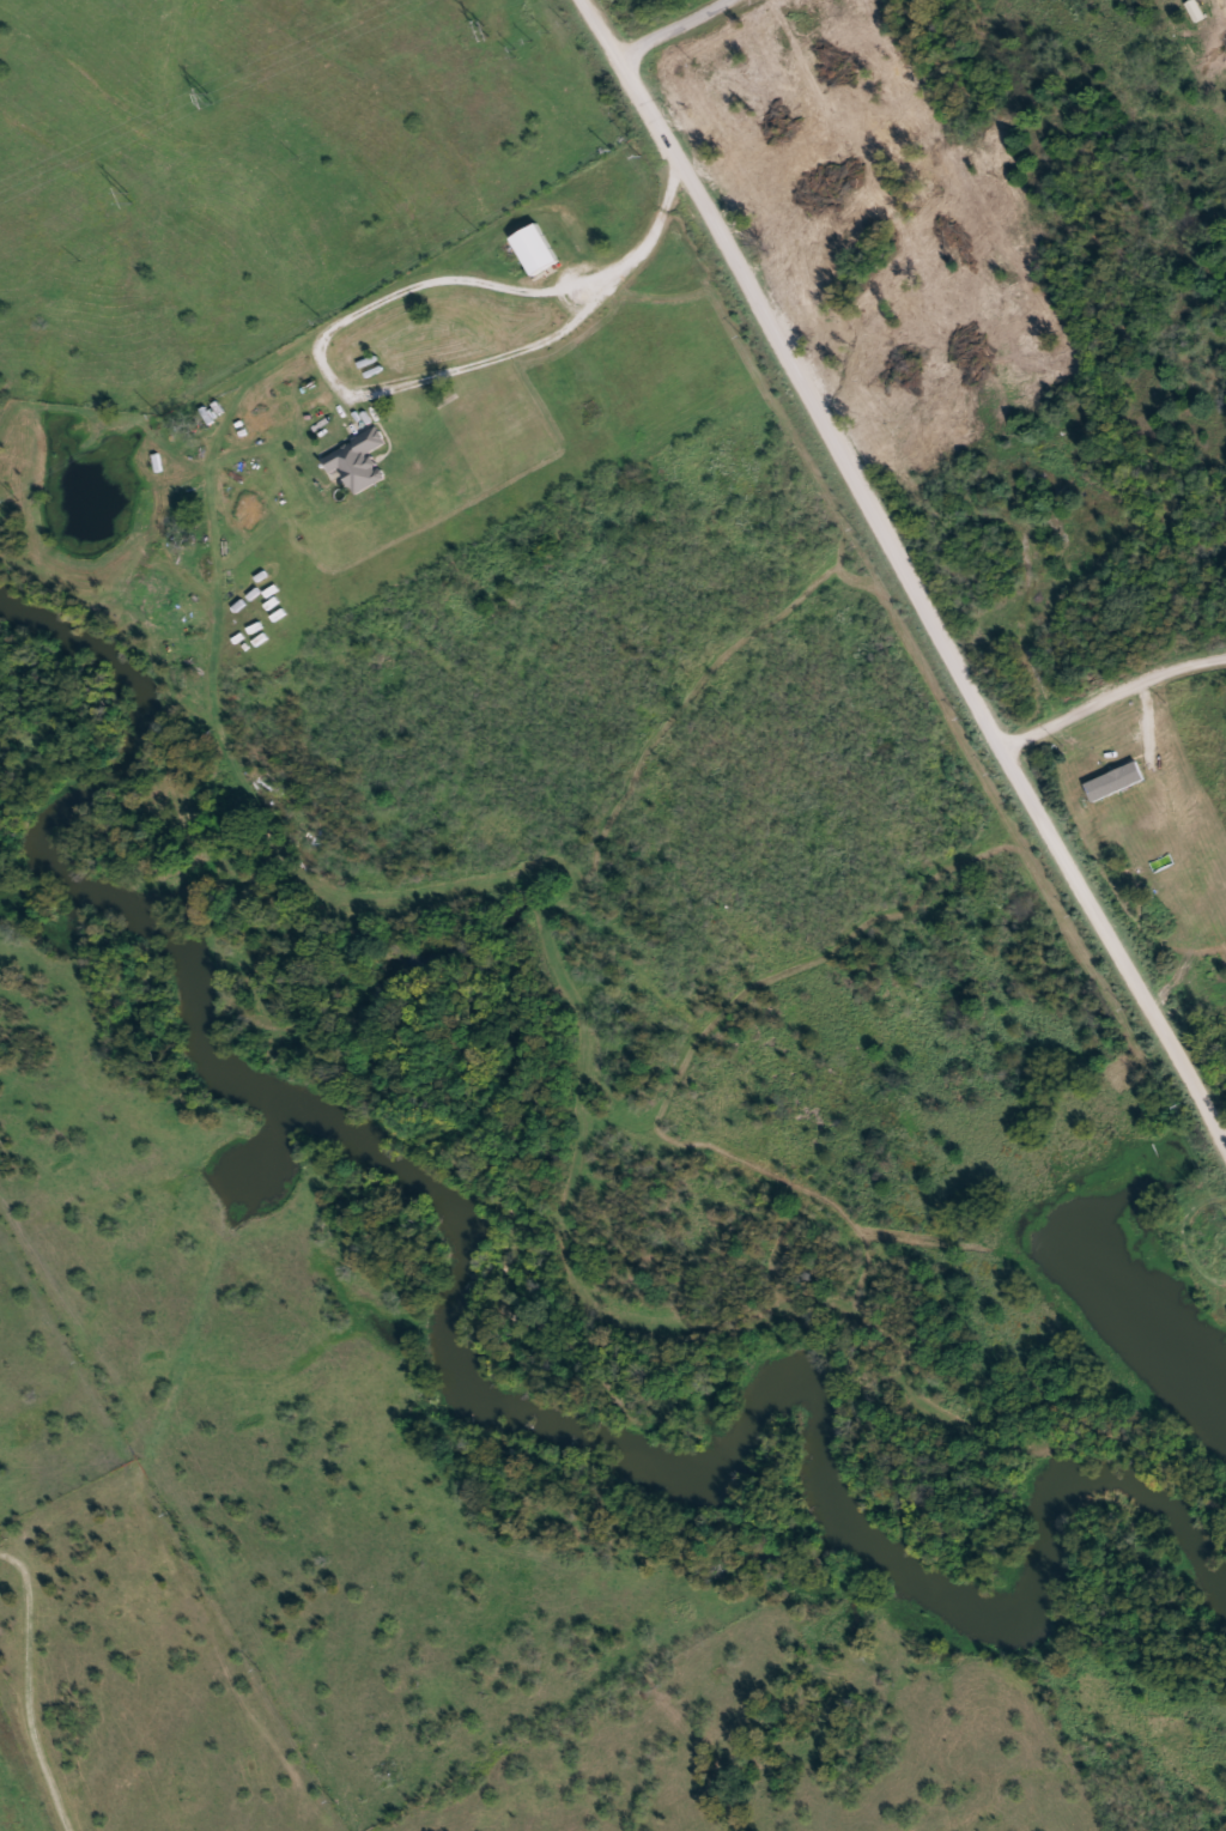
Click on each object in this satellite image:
road: (668, 20)
building: (536, 250)
road: (480, 284)
building: (358, 462)
road: (908, 571)
road: (1113, 696)

